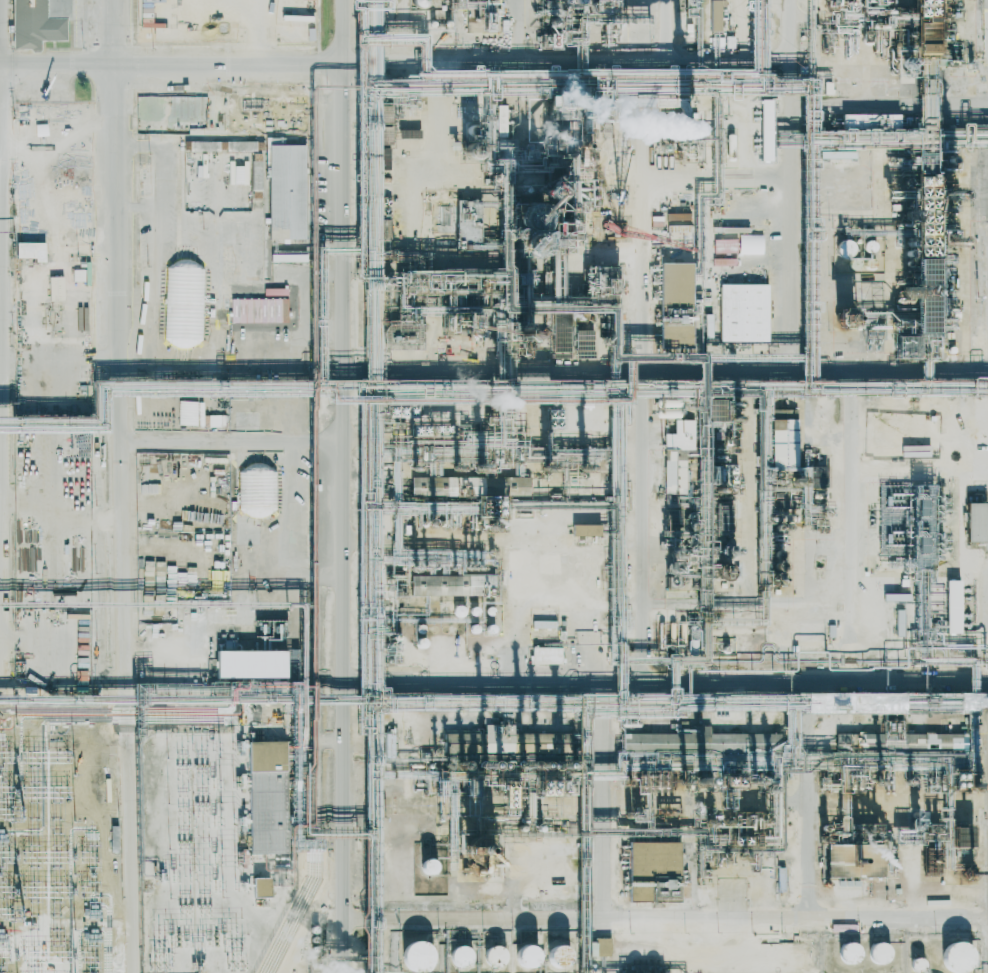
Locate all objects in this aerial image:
building: (417, 3)
building: (689, 7)
building: (713, 15)
building: (37, 22)
building: (954, 47)
building: (500, 118)
building: (859, 122)
building: (764, 130)
building: (408, 134)
building: (201, 146)
building: (239, 174)
building: (285, 192)
building: (725, 246)
building: (843, 248)
building: (30, 251)
building: (923, 266)
building: (82, 274)
building: (675, 298)
building: (745, 311)
building: (176, 323)
building: (259, 324)
building: (708, 326)
building: (35, 337)
building: (583, 343)
road: (348, 344)
road: (668, 366)
parking lot: (215, 384)
building: (888, 404)
building: (940, 407)
building: (712, 409)
building: (190, 412)
building: (245, 412)
building: (217, 420)
building: (896, 429)
building: (678, 434)
building: (783, 438)
building: (673, 472)
building: (430, 485)
road: (120, 486)
building: (510, 486)
building: (256, 491)
building: (904, 503)
parking lot: (59, 519)
building: (974, 520)
building: (585, 529)
building: (442, 584)
building: (952, 605)
building: (458, 610)
building: (898, 622)
building: (543, 623)
building: (420, 627)
building: (472, 627)
building: (419, 642)
building: (546, 655)
building: (251, 663)
road: (667, 679)
building: (867, 737)
building: (491, 739)
building: (670, 740)
building: (951, 740)
building: (264, 797)
building: (958, 836)
building: (559, 848)
power substation: (194, 851)
road: (809, 858)
building: (837, 859)
building: (561, 864)
building: (427, 866)
building: (263, 886)
building: (657, 889)
road: (666, 919)
building: (599, 947)
building: (877, 952)
building: (848, 953)
building: (556, 955)
building: (416, 956)
building: (460, 956)
building: (494, 956)
building: (525, 956)
building: (956, 956)
building: (917, 964)

